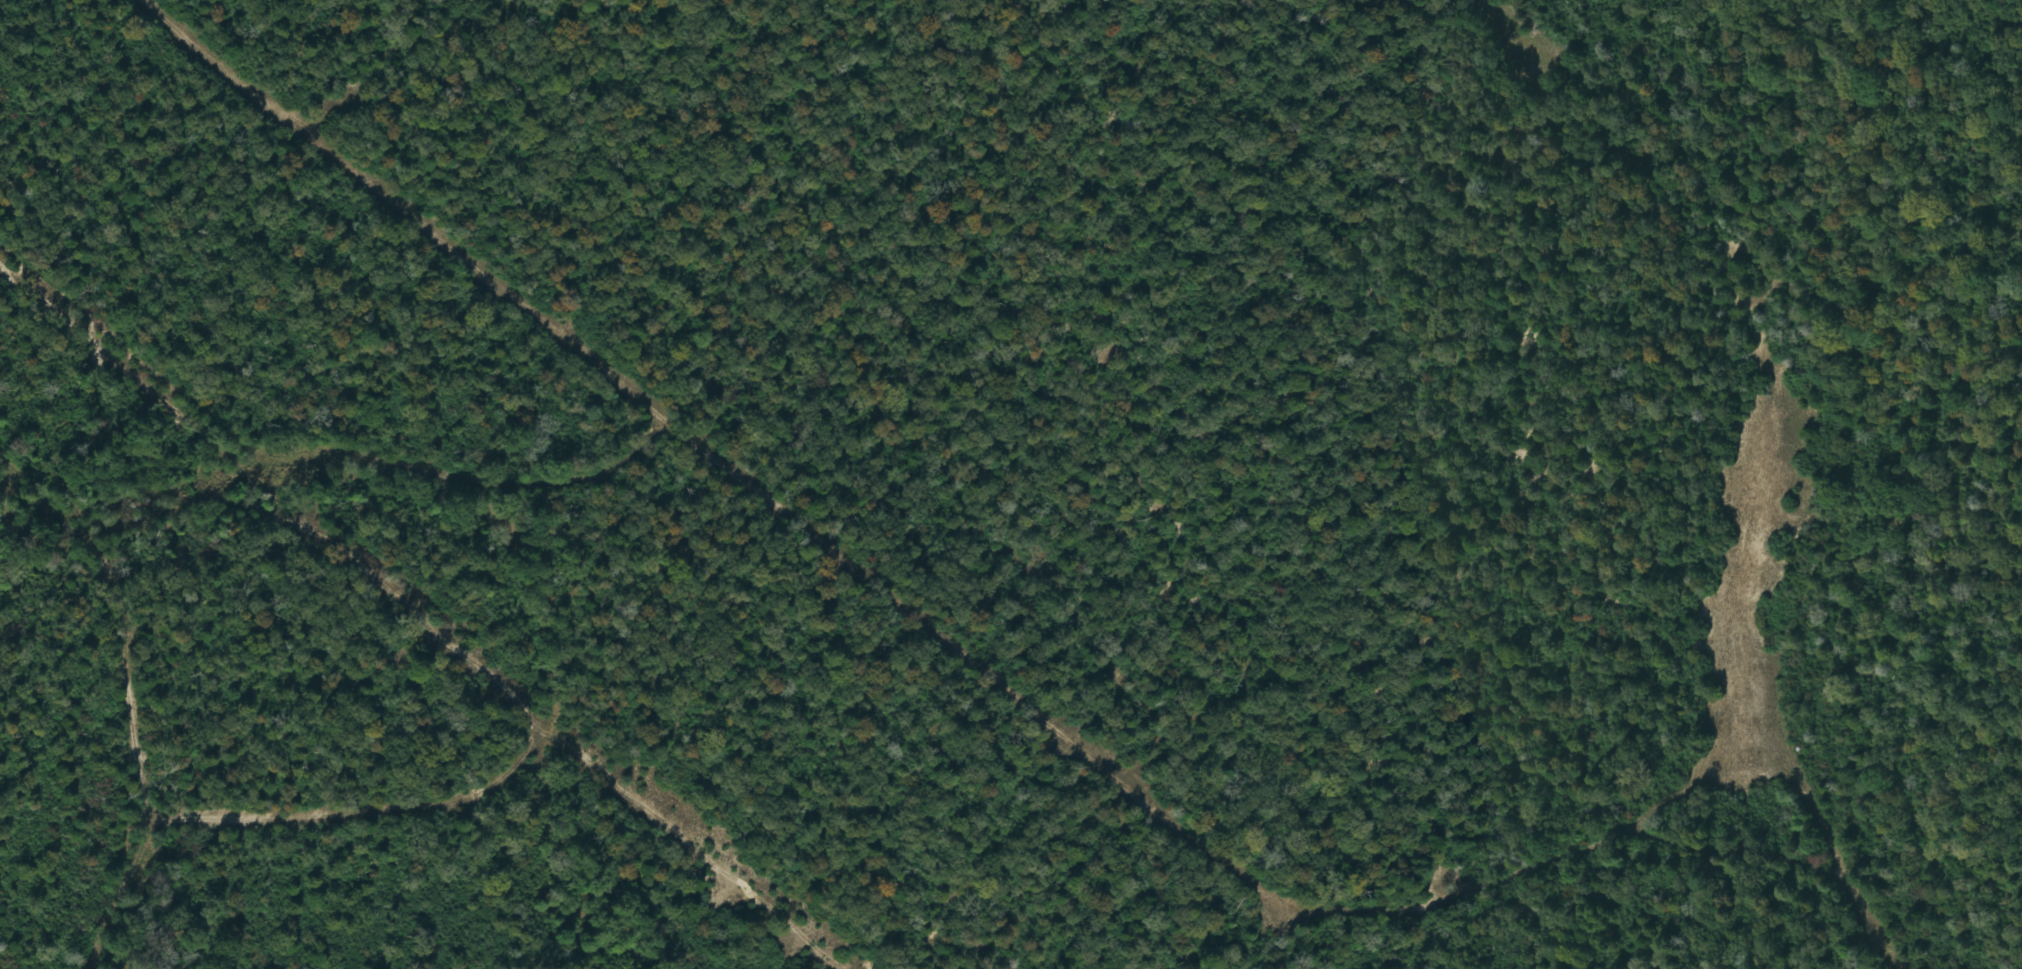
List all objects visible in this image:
road: (134, 512)

